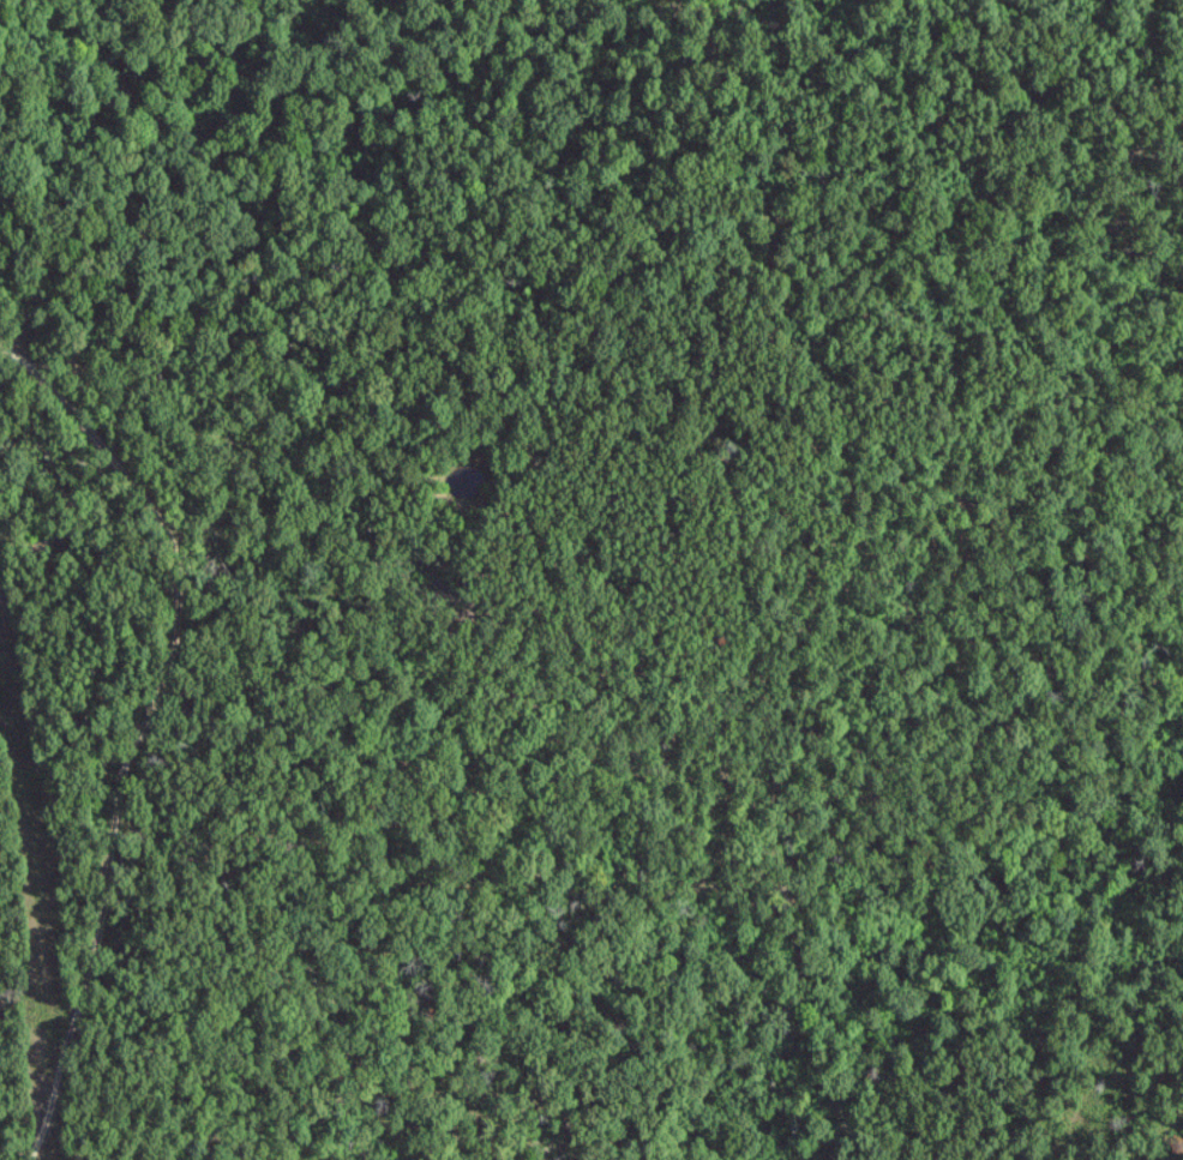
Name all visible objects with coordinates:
road: (174, 557)
road: (522, 714)

